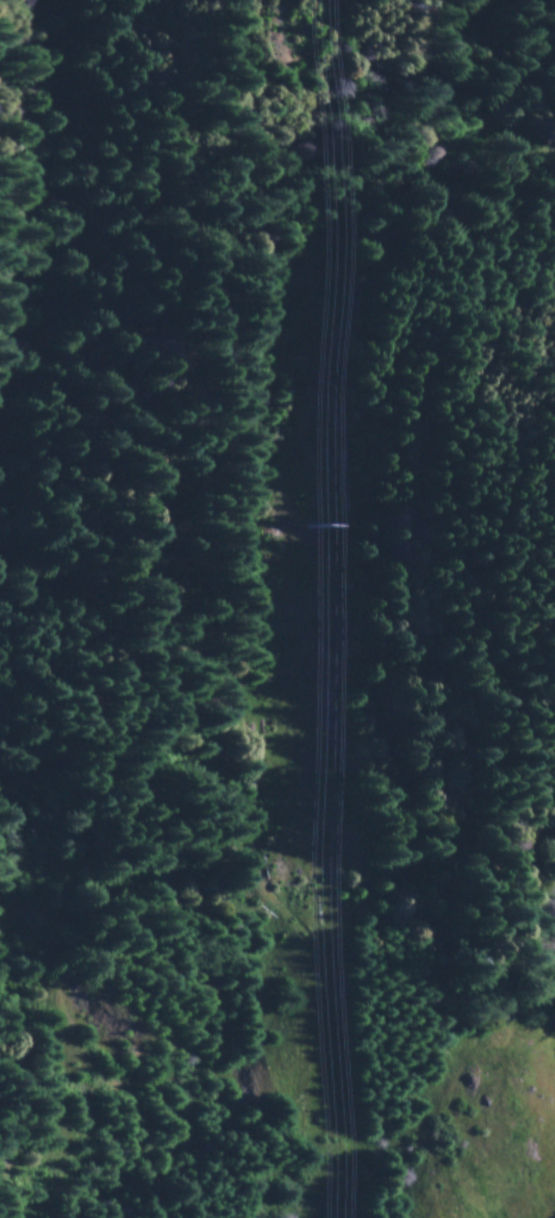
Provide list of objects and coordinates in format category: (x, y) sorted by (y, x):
power tower: (301, 532)

